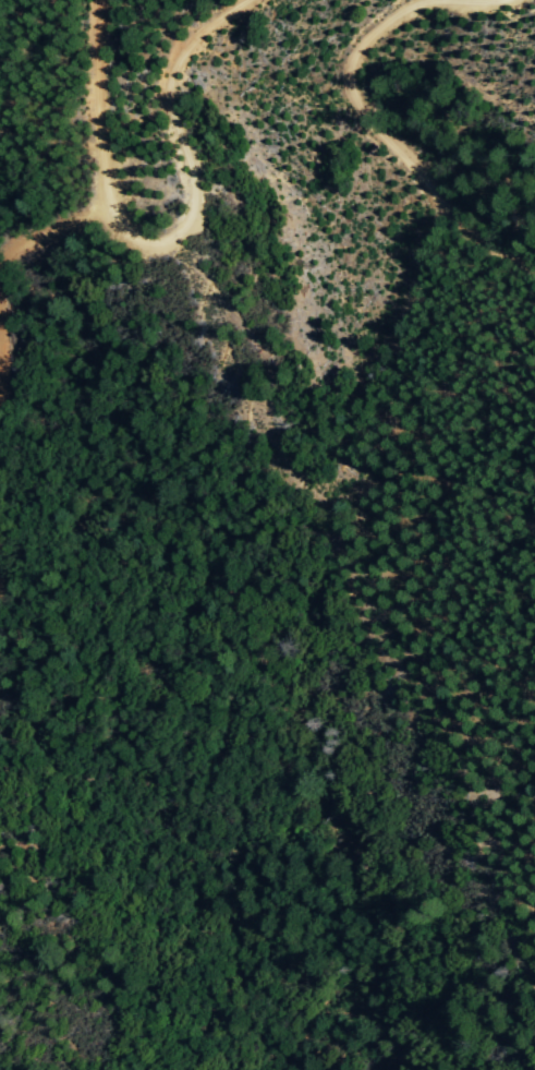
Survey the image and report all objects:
road: (362, 116)
road: (163, 240)

